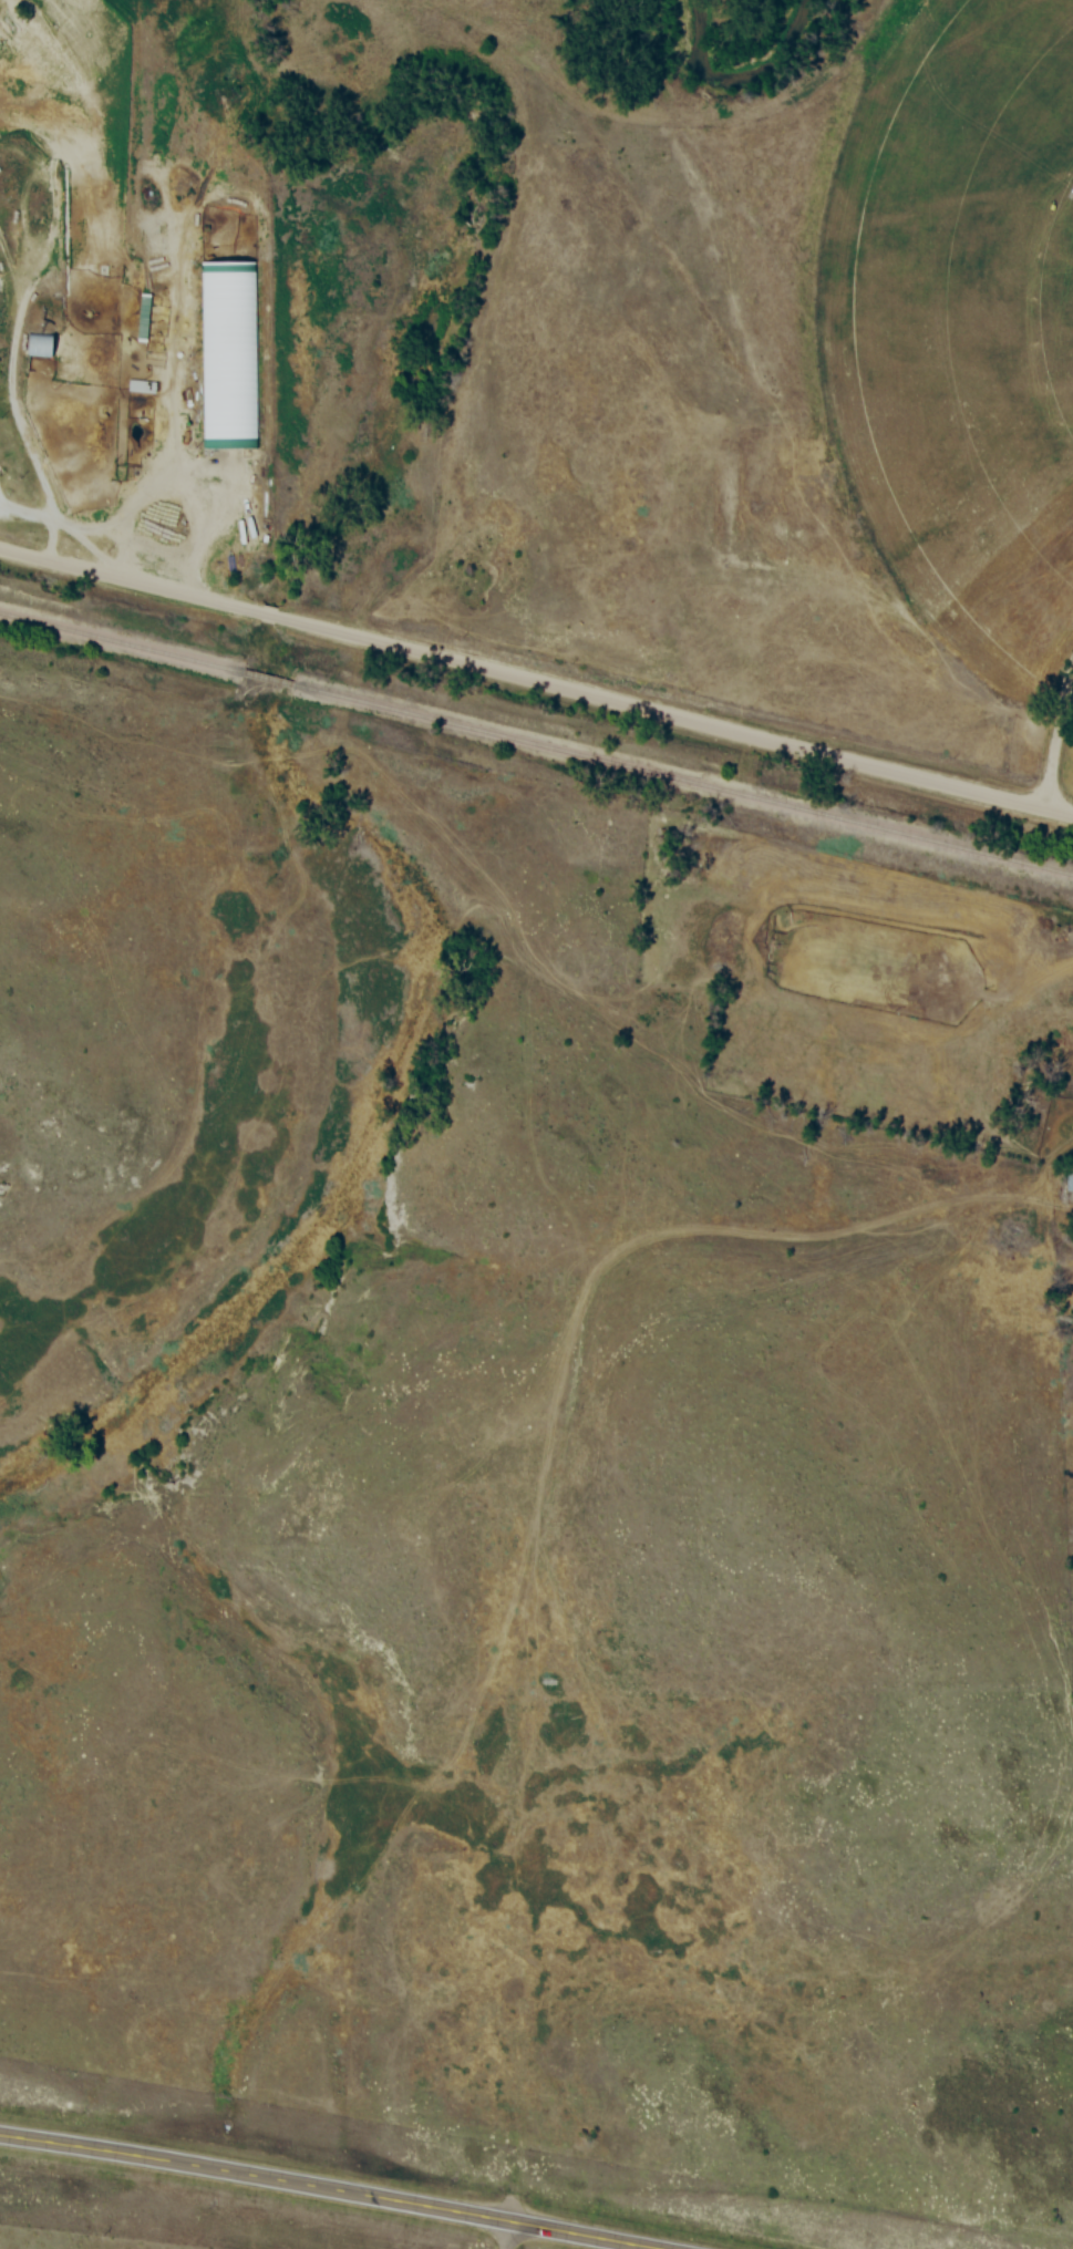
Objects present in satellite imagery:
building: (40, 345)
building: (227, 353)
road: (41, 474)
road: (153, 590)
railway: (122, 642)
railway: (269, 679)
road: (689, 726)
railway: (683, 778)
road: (322, 2193)

